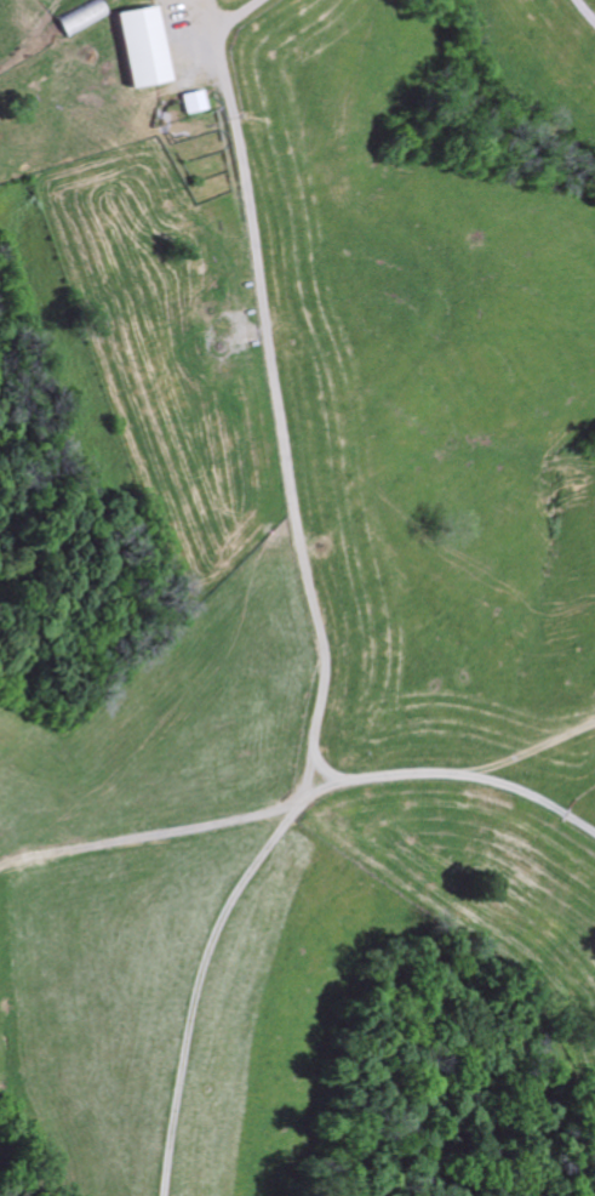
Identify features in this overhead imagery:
road: (583, 13)
road: (240, 15)
building: (85, 18)
road: (52, 44)
building: (147, 50)
building: (196, 103)
road: (287, 383)
road: (537, 790)
road: (298, 791)
road: (202, 963)

